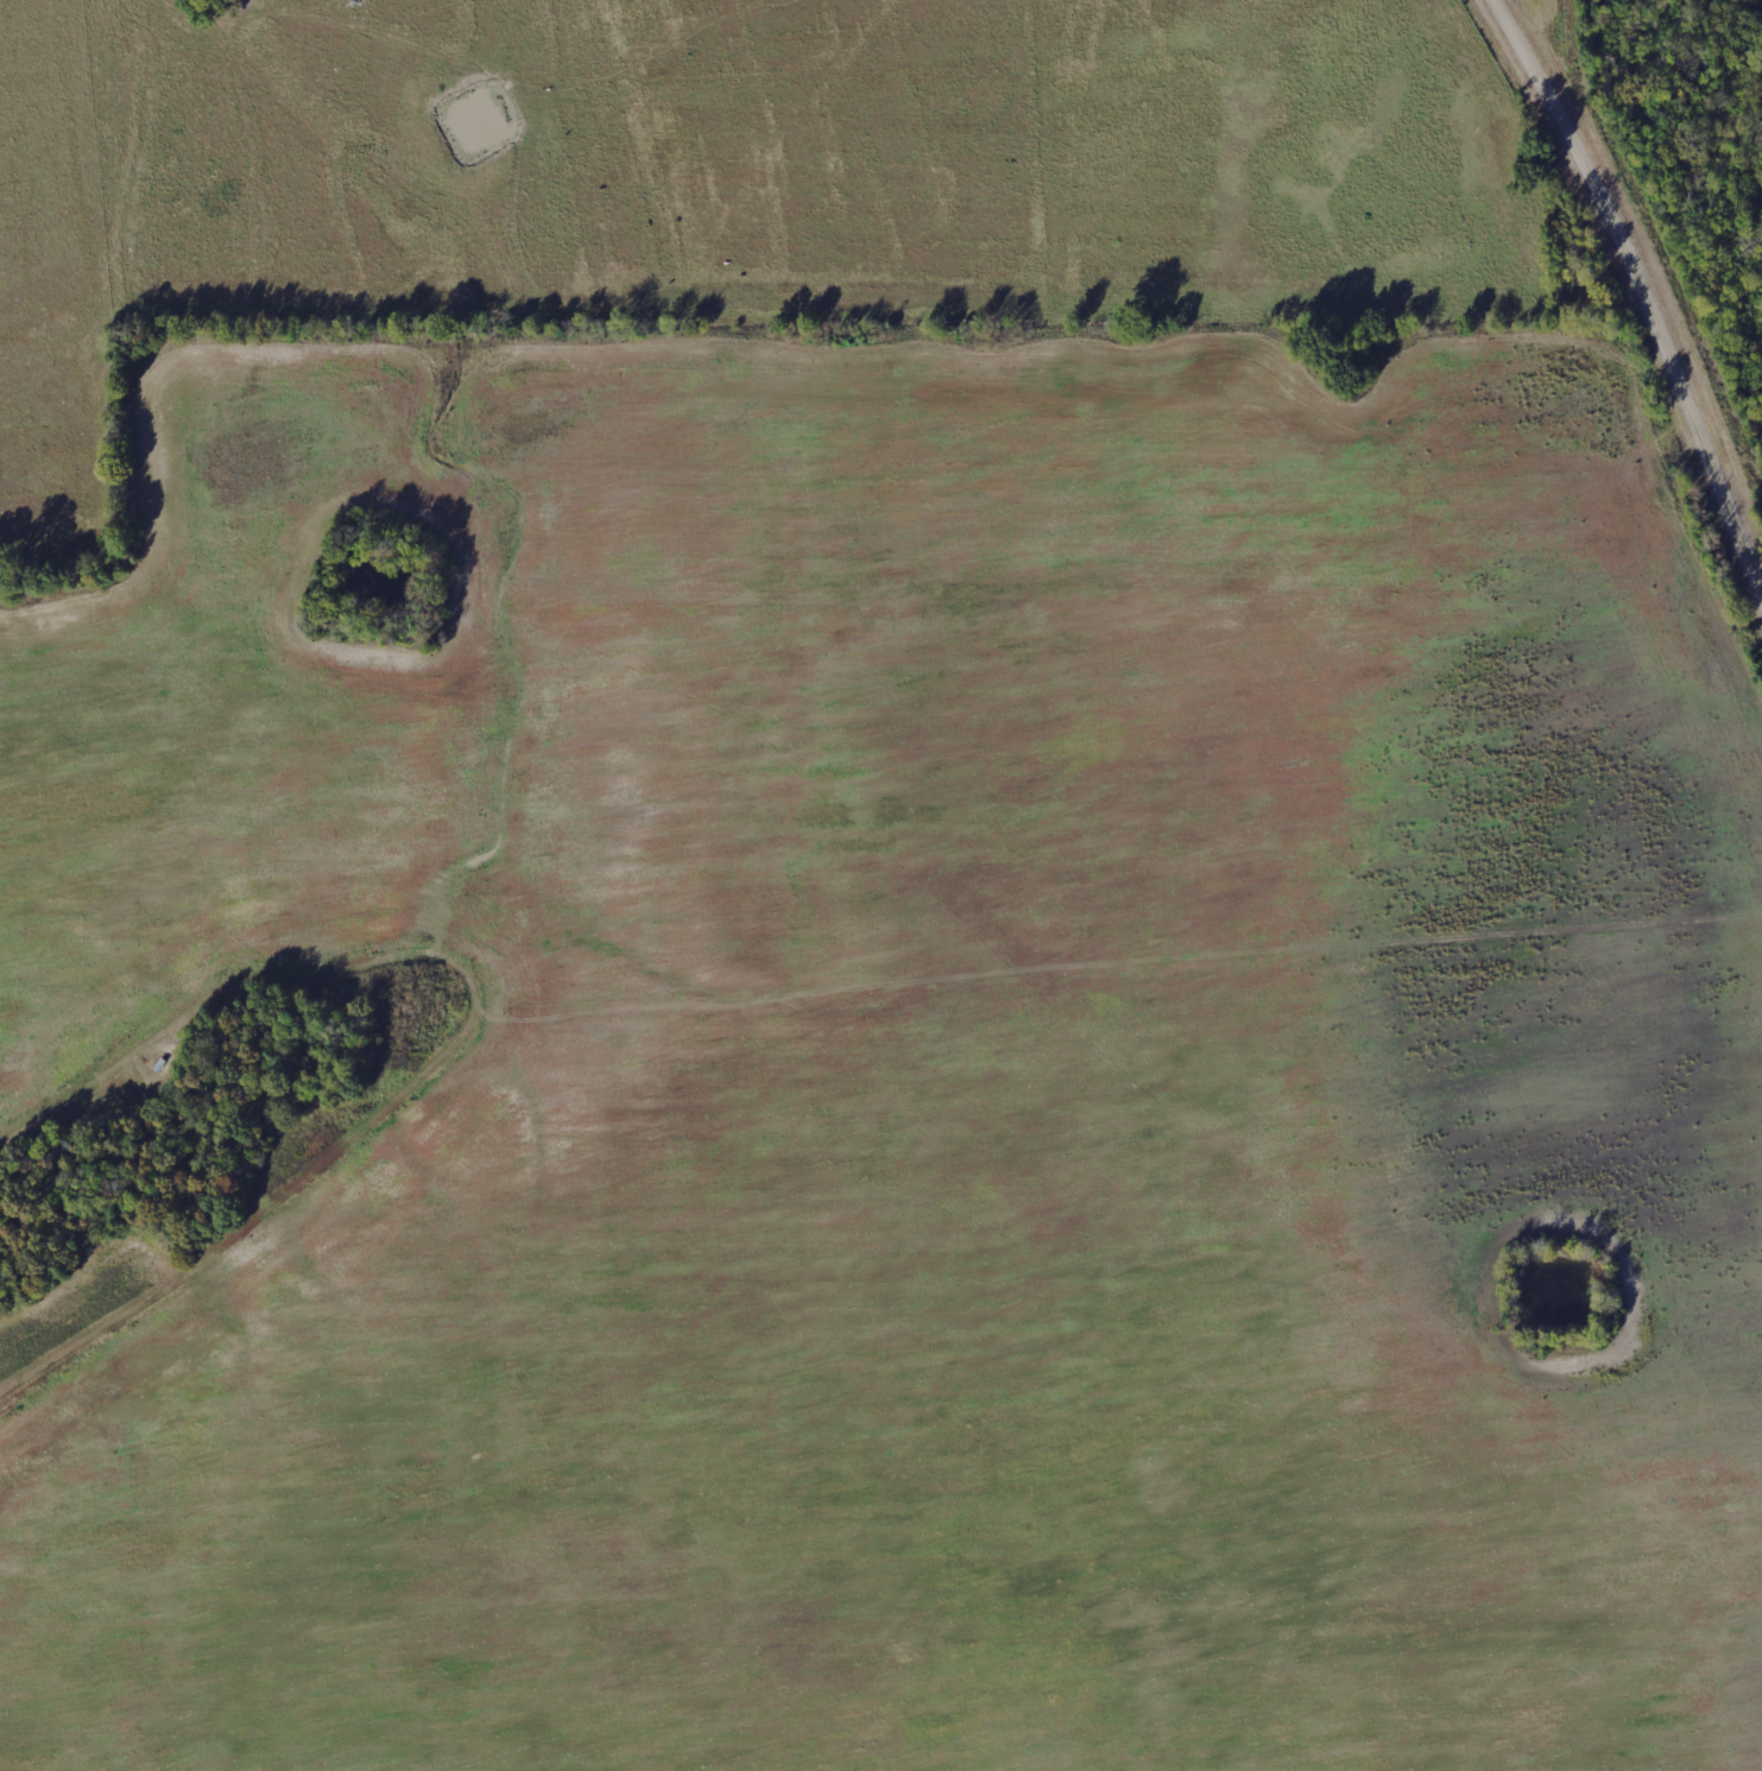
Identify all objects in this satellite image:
road: (1615, 56)
road: (1642, 276)
road: (1105, 292)

